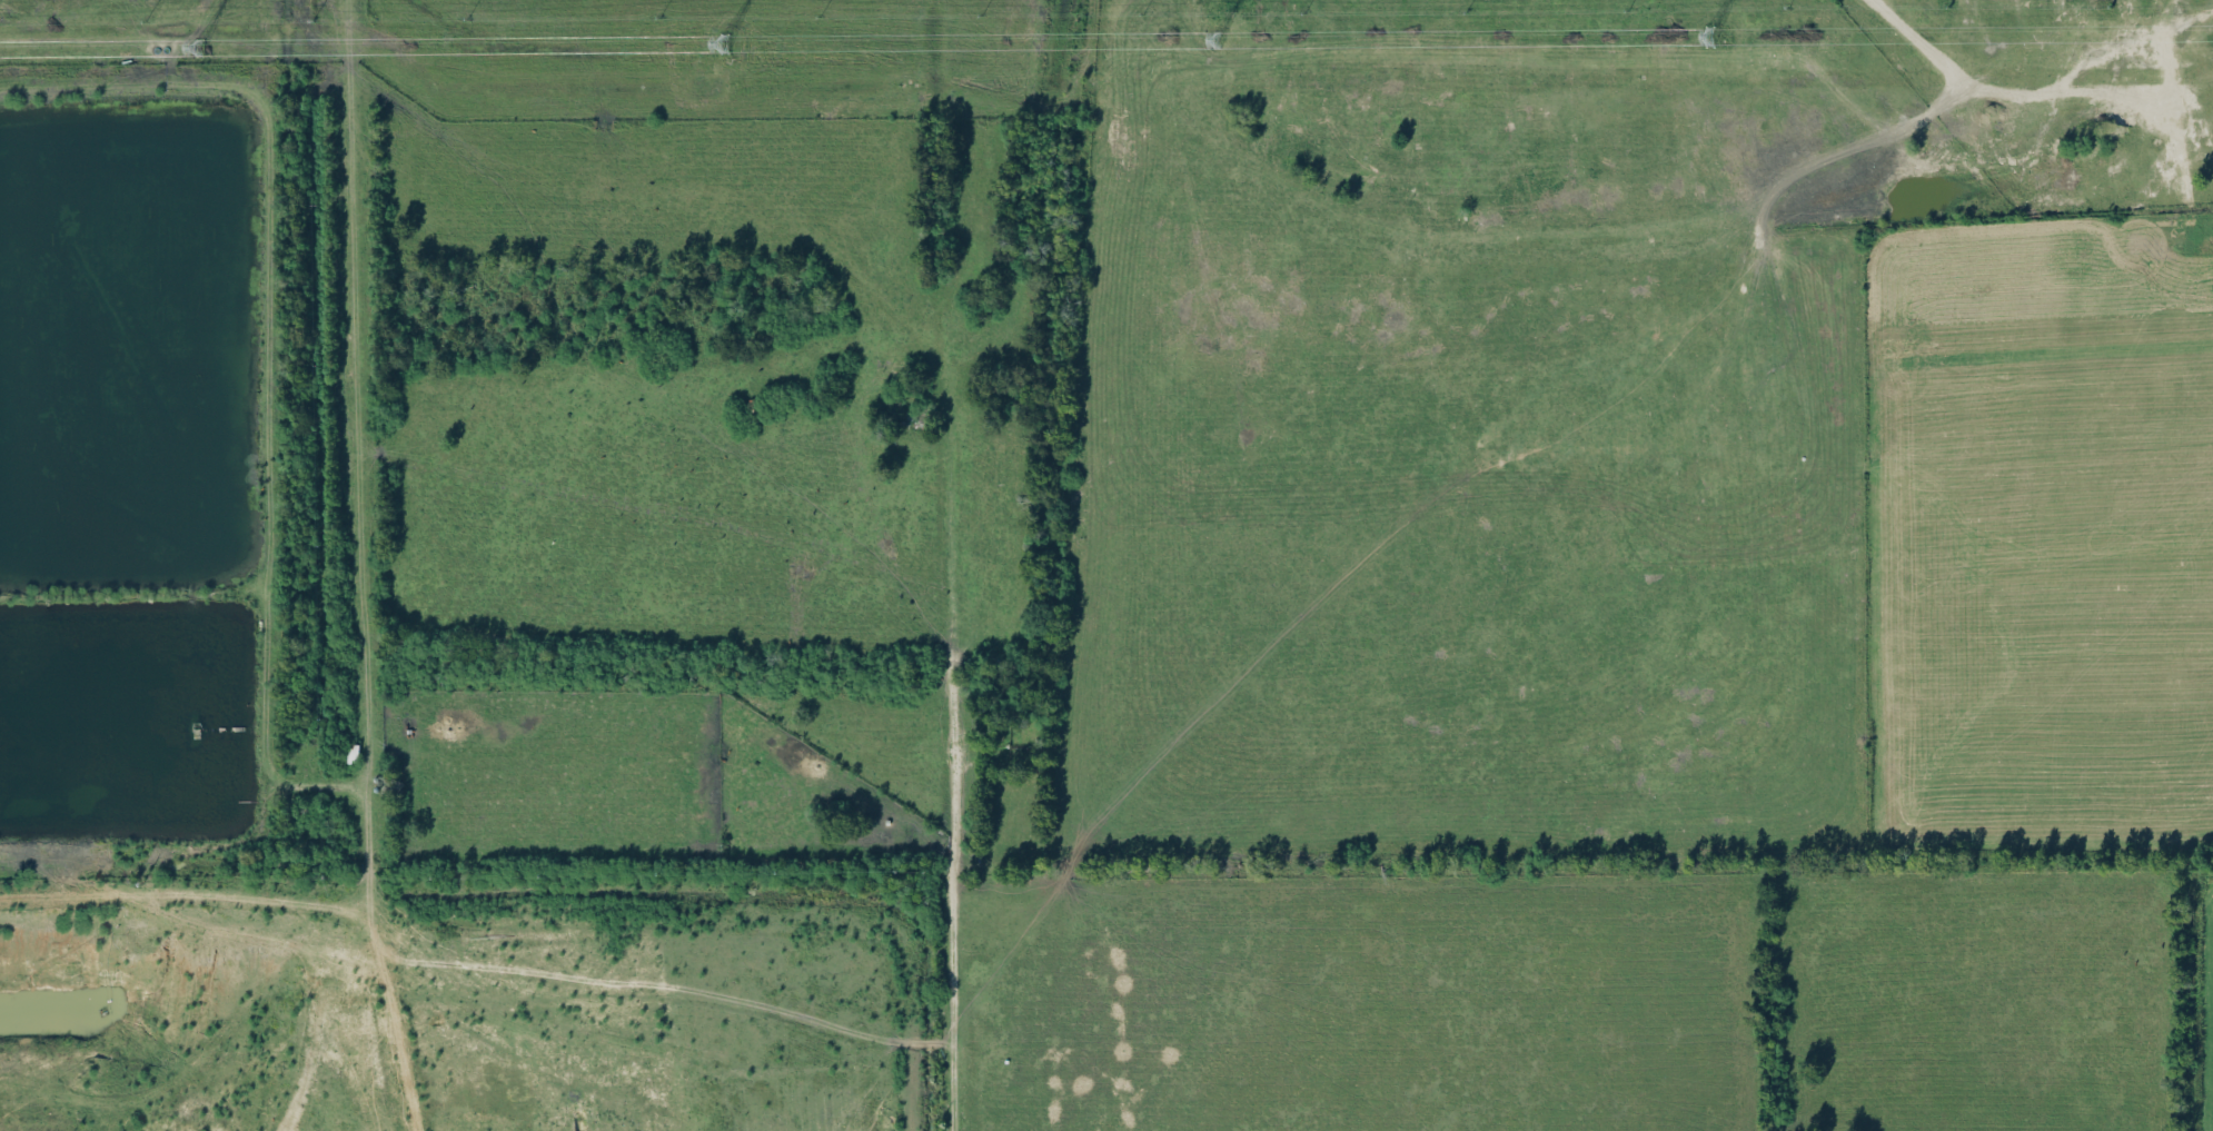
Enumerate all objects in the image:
power tower: (1725, 39)
power tower: (1213, 42)
power tower: (705, 44)
power tower: (195, 49)
road: (946, 743)

